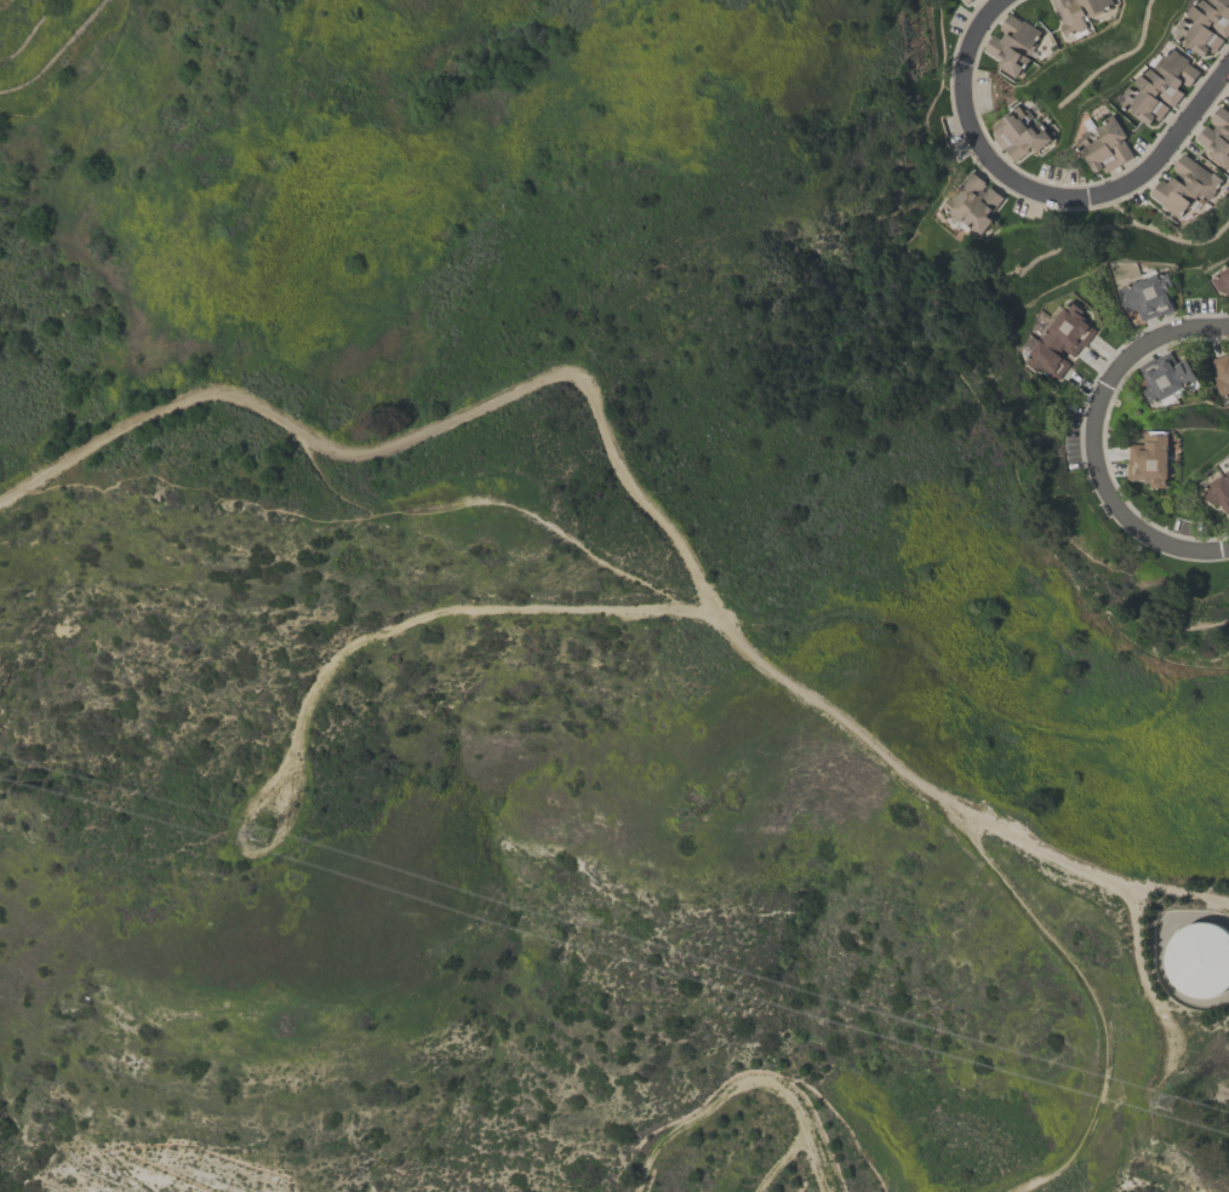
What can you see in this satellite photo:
building: (964, 1)
building: (1075, 12)
building: (1205, 25)
building: (1012, 44)
building: (1159, 86)
building: (1018, 132)
building: (1217, 137)
building: (1104, 145)
building: (1183, 185)
road: (1039, 195)
building: (970, 202)
building: (1222, 279)
building: (1149, 296)
building: (1059, 340)
building: (1221, 373)
building: (1164, 376)
road: (1094, 440)
building: (1148, 460)
road: (625, 486)
building: (1218, 491)
road: (361, 640)
power tower: (259, 826)
road: (1159, 957)
building: (1202, 961)
water tower: (1204, 963)
road: (1096, 1007)
road: (744, 1082)
power tower: (1134, 1090)

